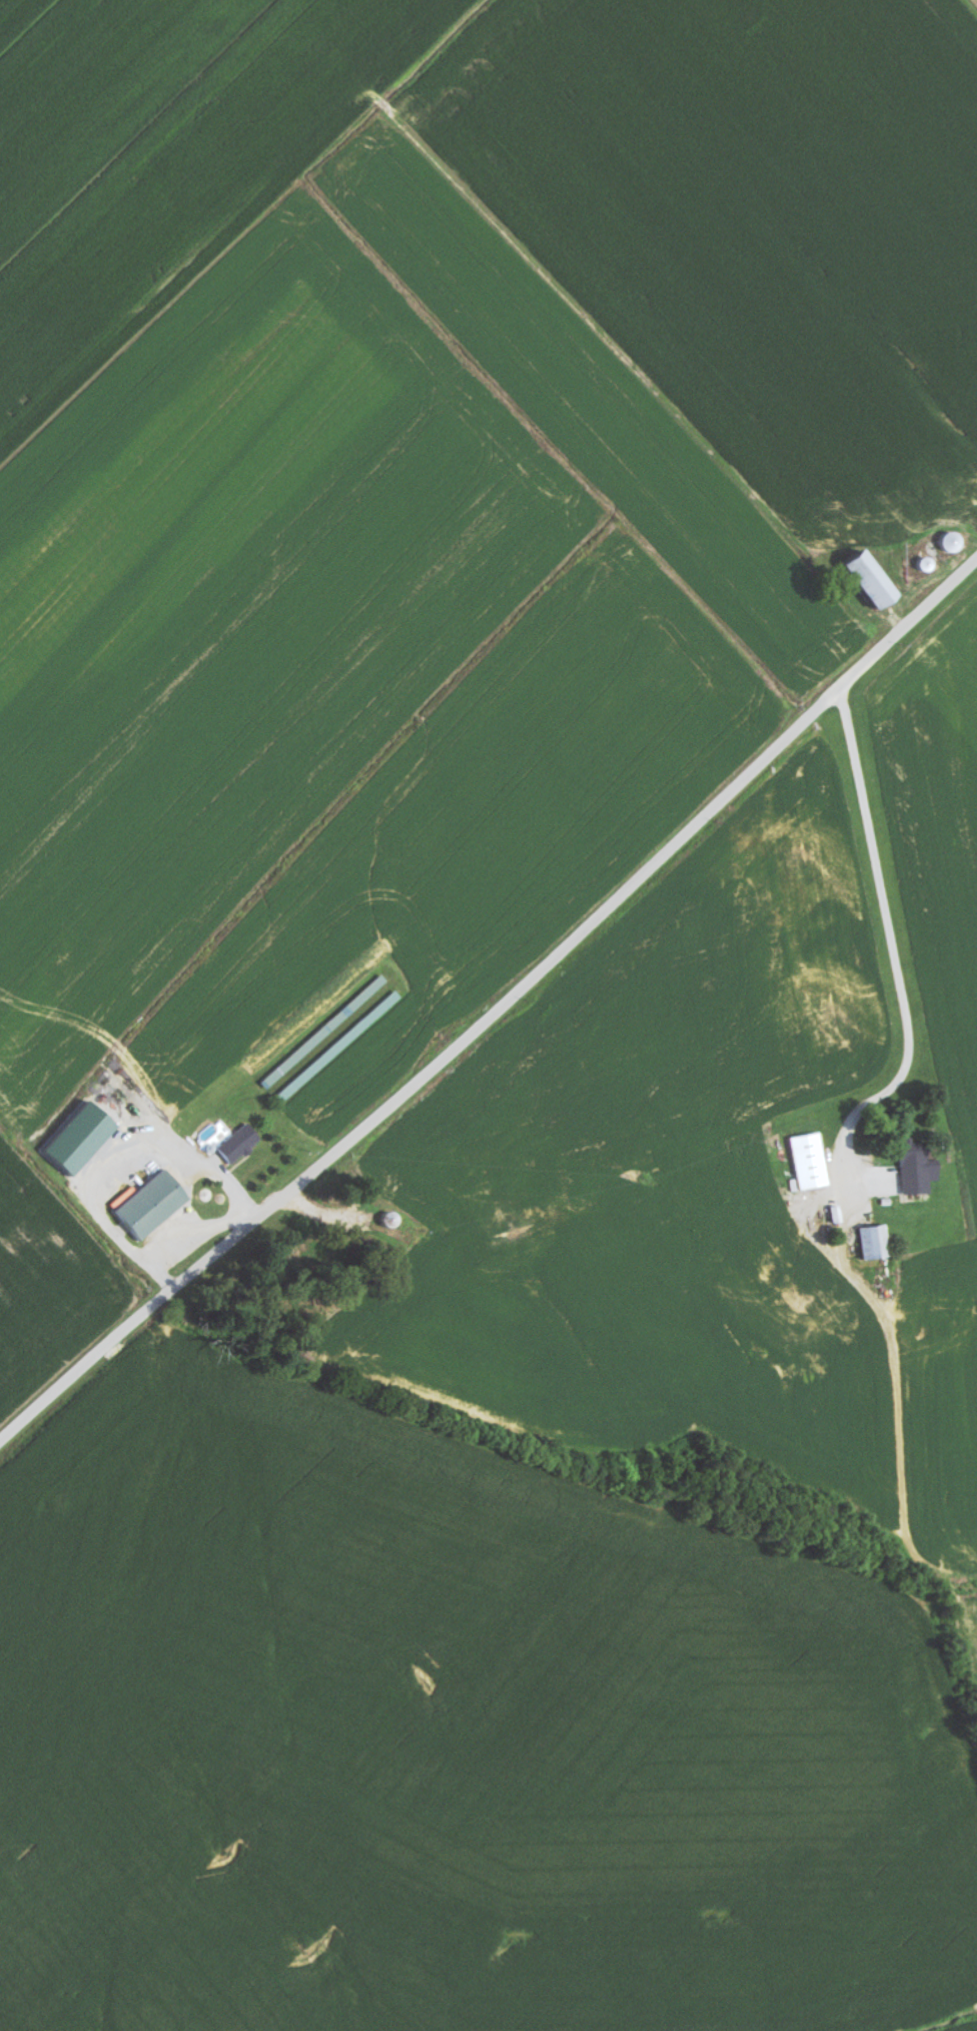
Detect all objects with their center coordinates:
building: (877, 581)
road: (897, 954)
road: (497, 1009)
building: (217, 1137)
building: (84, 1139)
building: (242, 1145)
building: (813, 1162)
building: (921, 1174)
building: (154, 1205)
building: (879, 1244)
road: (10, 1414)

